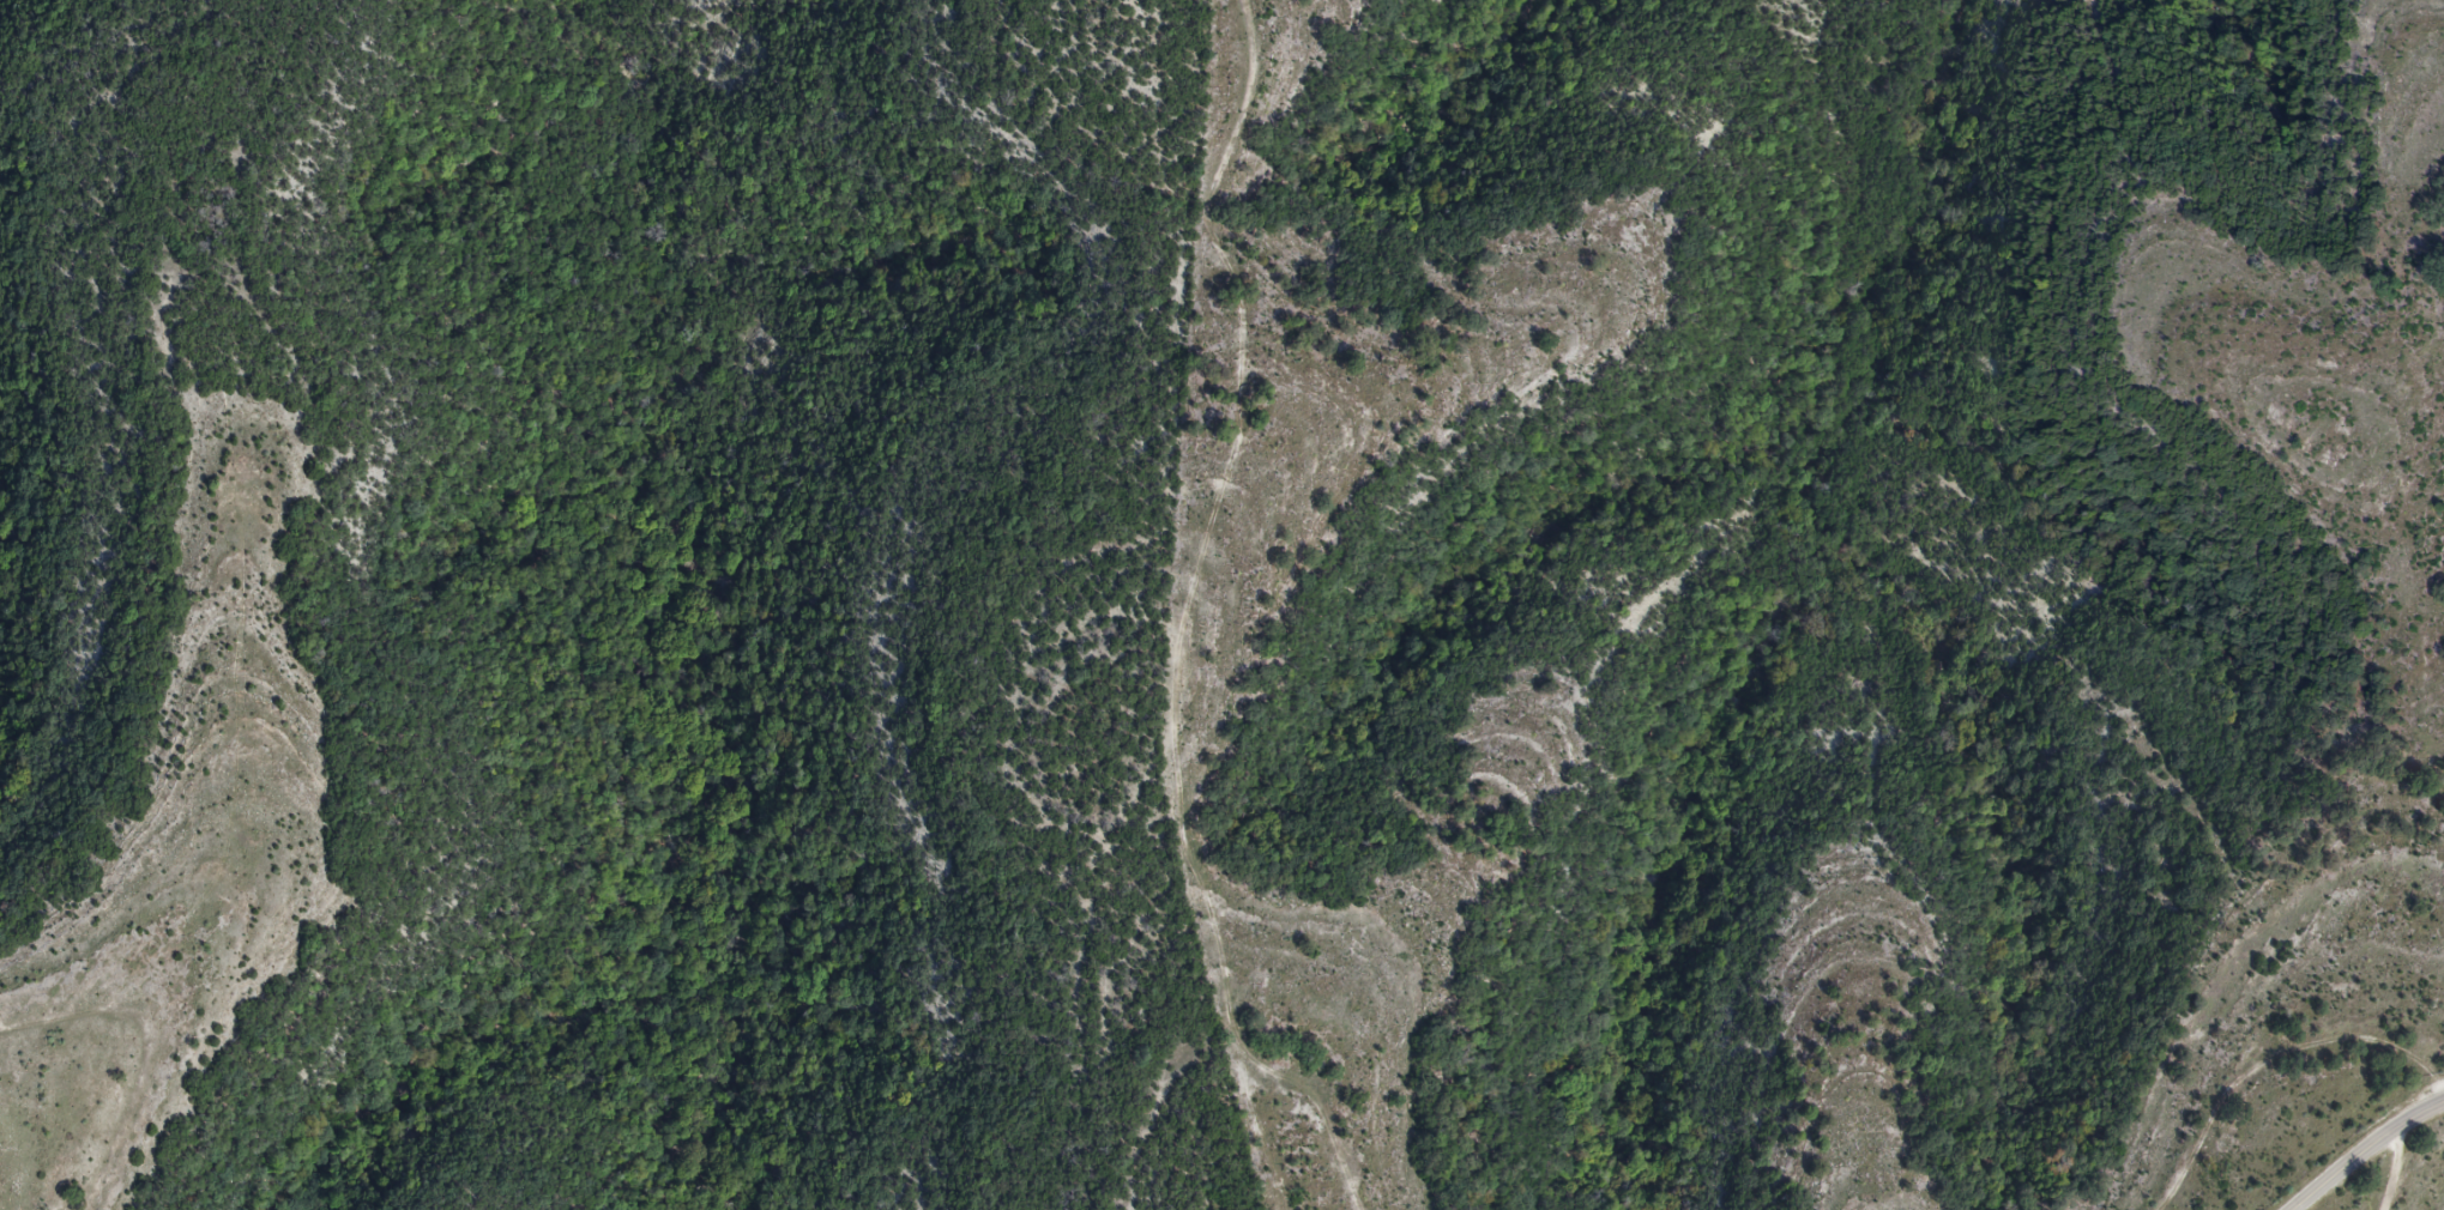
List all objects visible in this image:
road: (2366, 1150)

